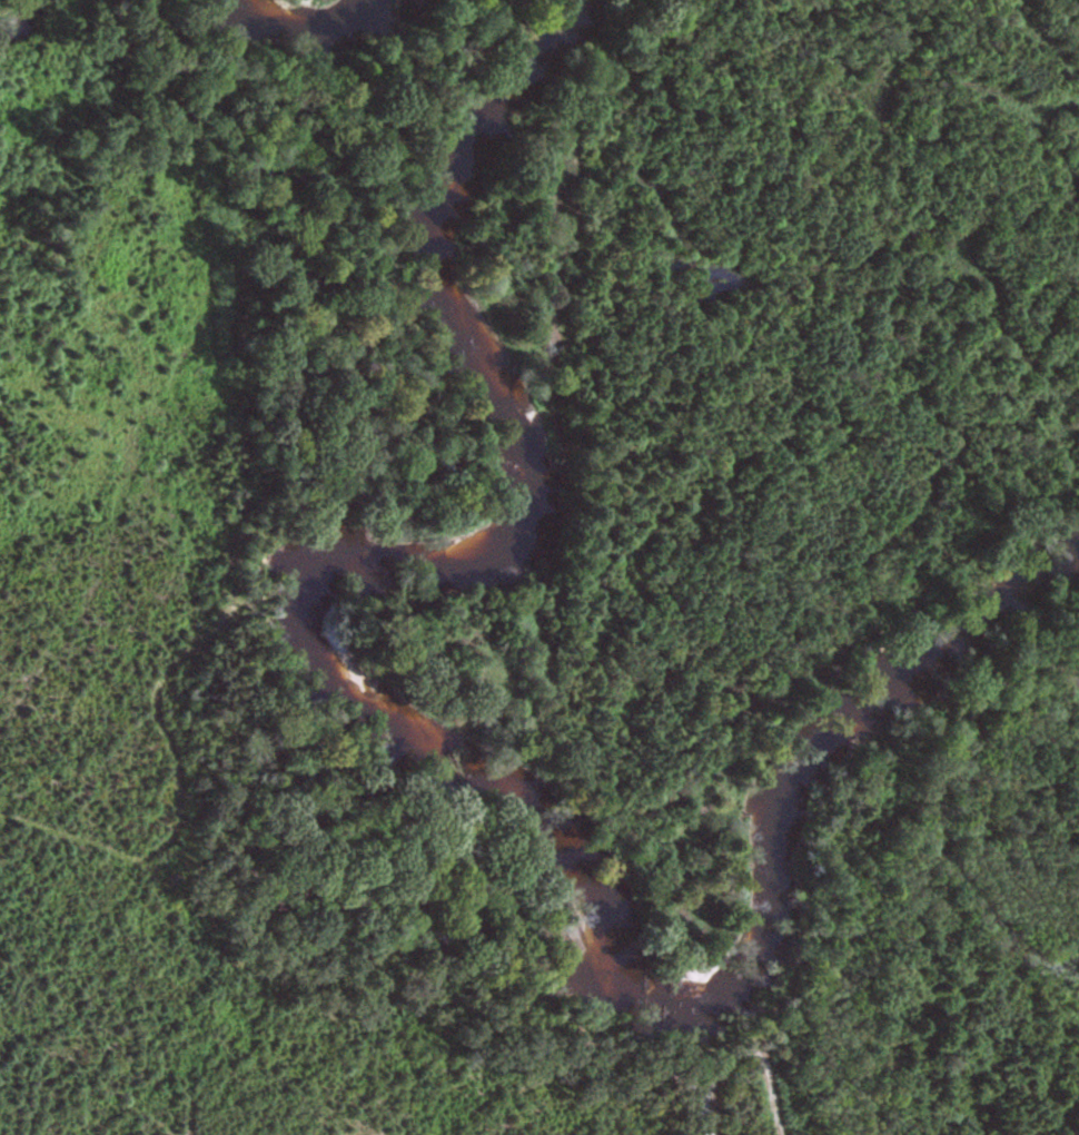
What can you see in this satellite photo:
road: (122, 790)
park: (931, 922)
road: (744, 1053)

